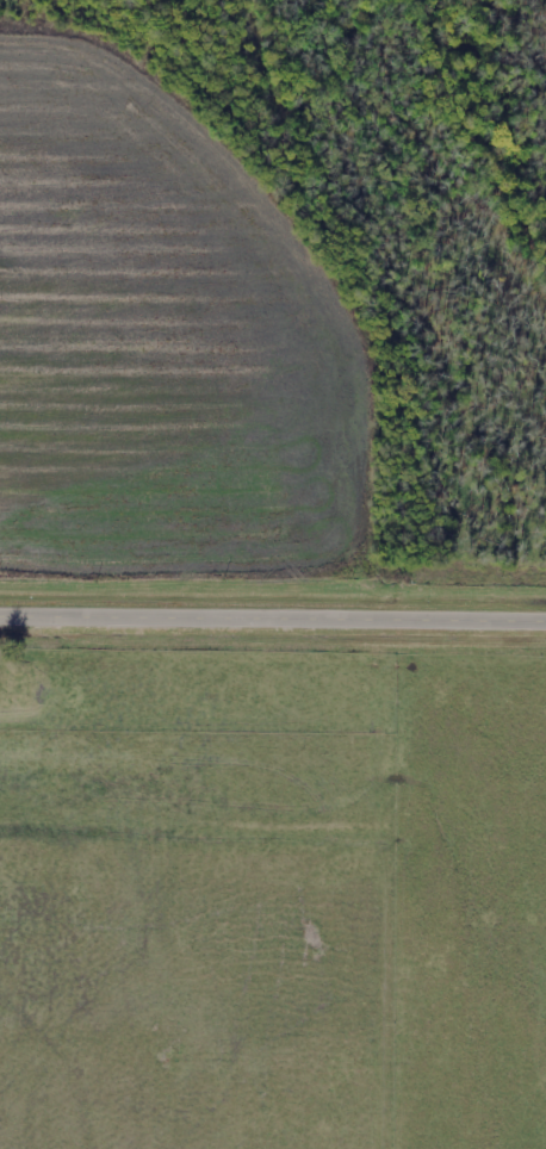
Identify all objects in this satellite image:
road: (273, 608)

